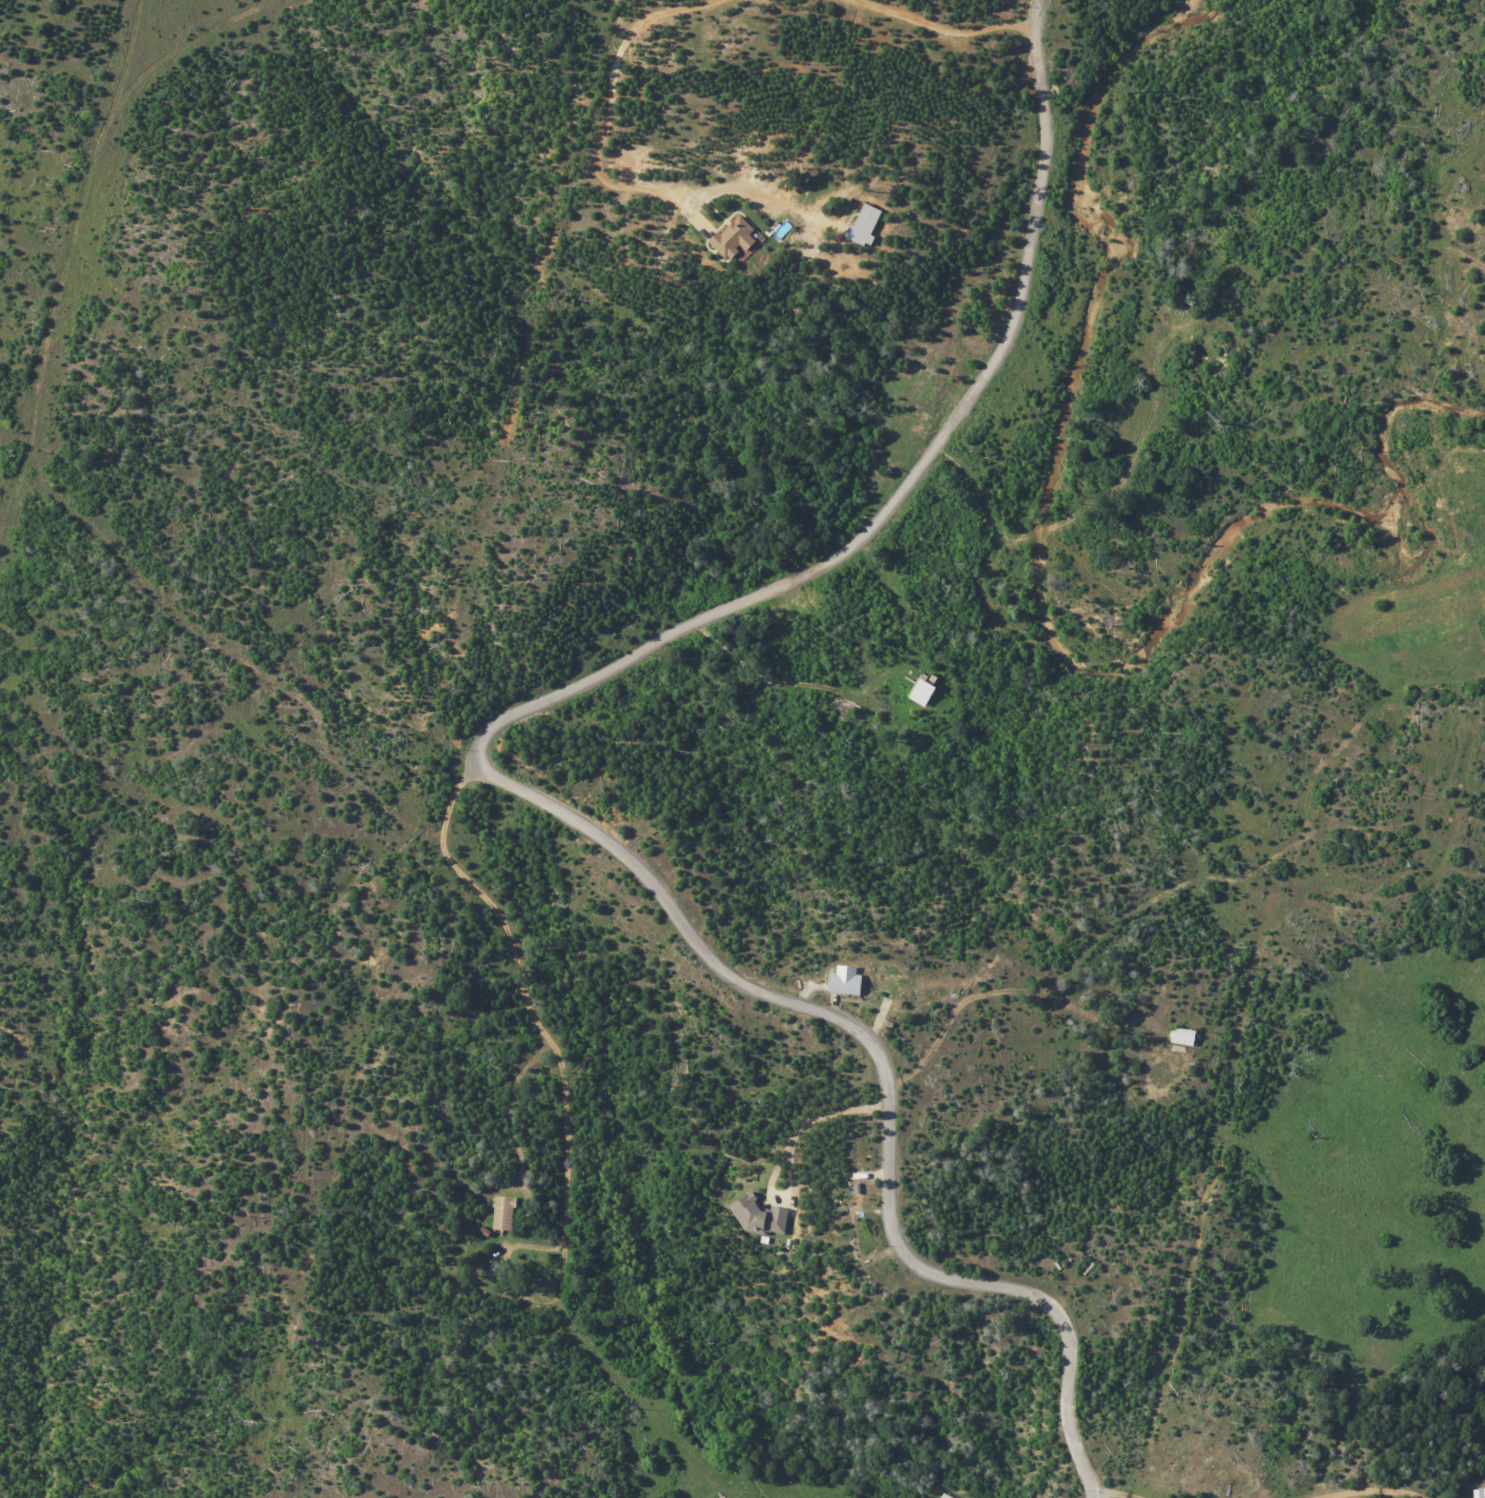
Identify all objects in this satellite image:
road: (925, 37)
road: (613, 92)
building: (864, 224)
road: (914, 496)
road: (914, 655)
building: (843, 980)
road: (523, 998)
building: (1182, 1036)
road: (889, 1087)
road: (816, 1131)
building: (504, 1213)
building: (759, 1215)
road: (1381, 1492)
building: (1479, 1493)
road: (1105, 1495)
building: (946, 1496)

